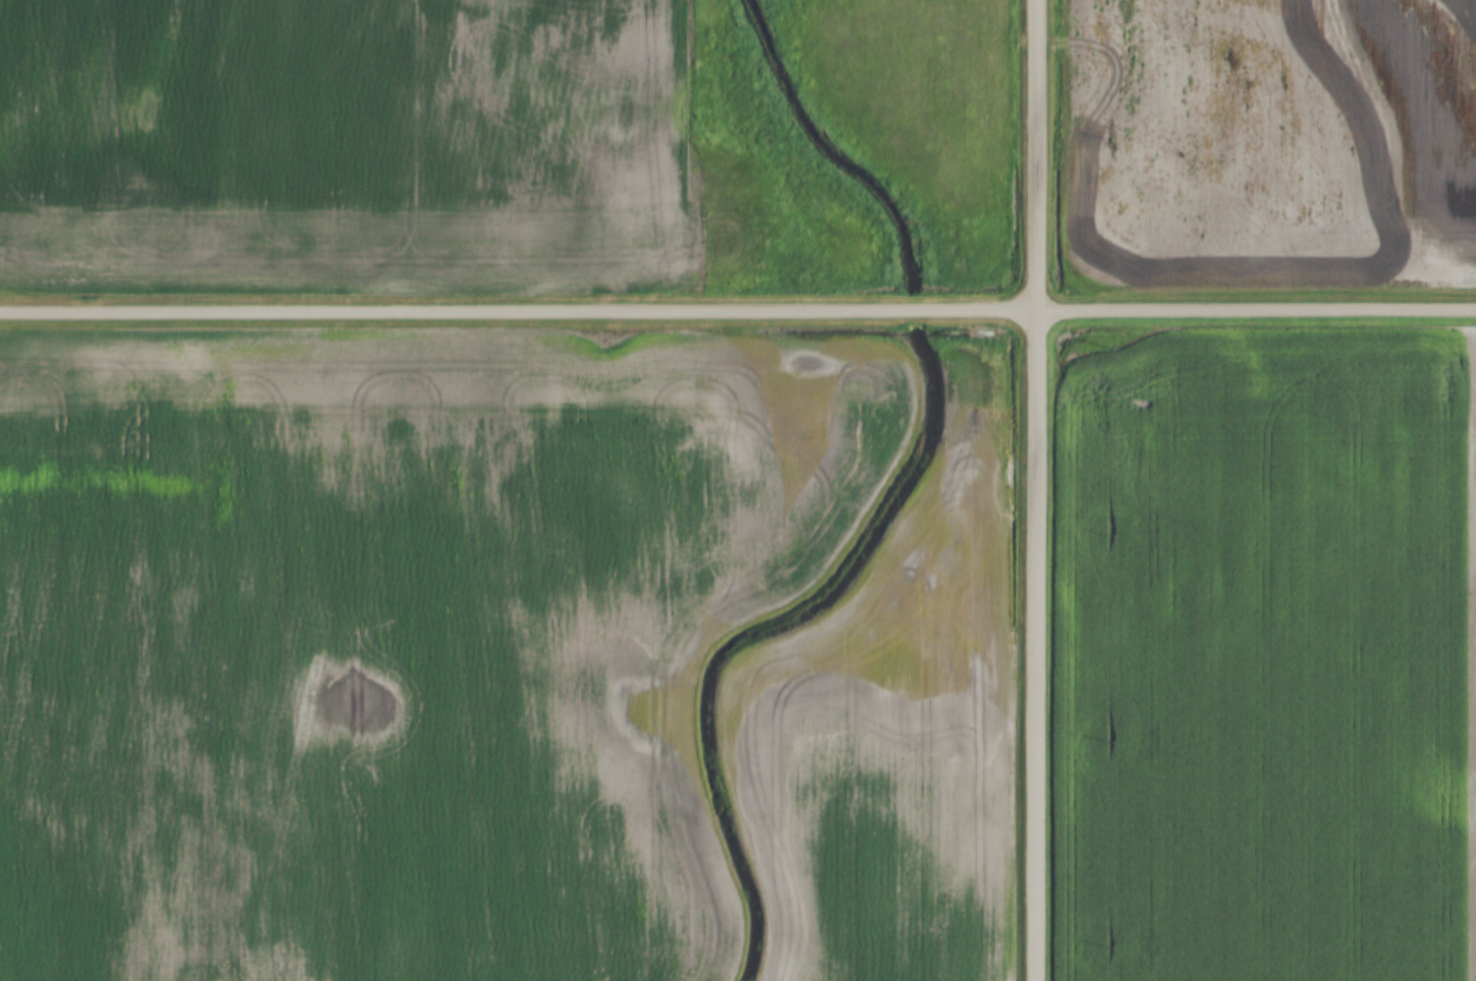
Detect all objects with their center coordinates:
road: (737, 311)
road: (1034, 490)
river: (920, 510)

